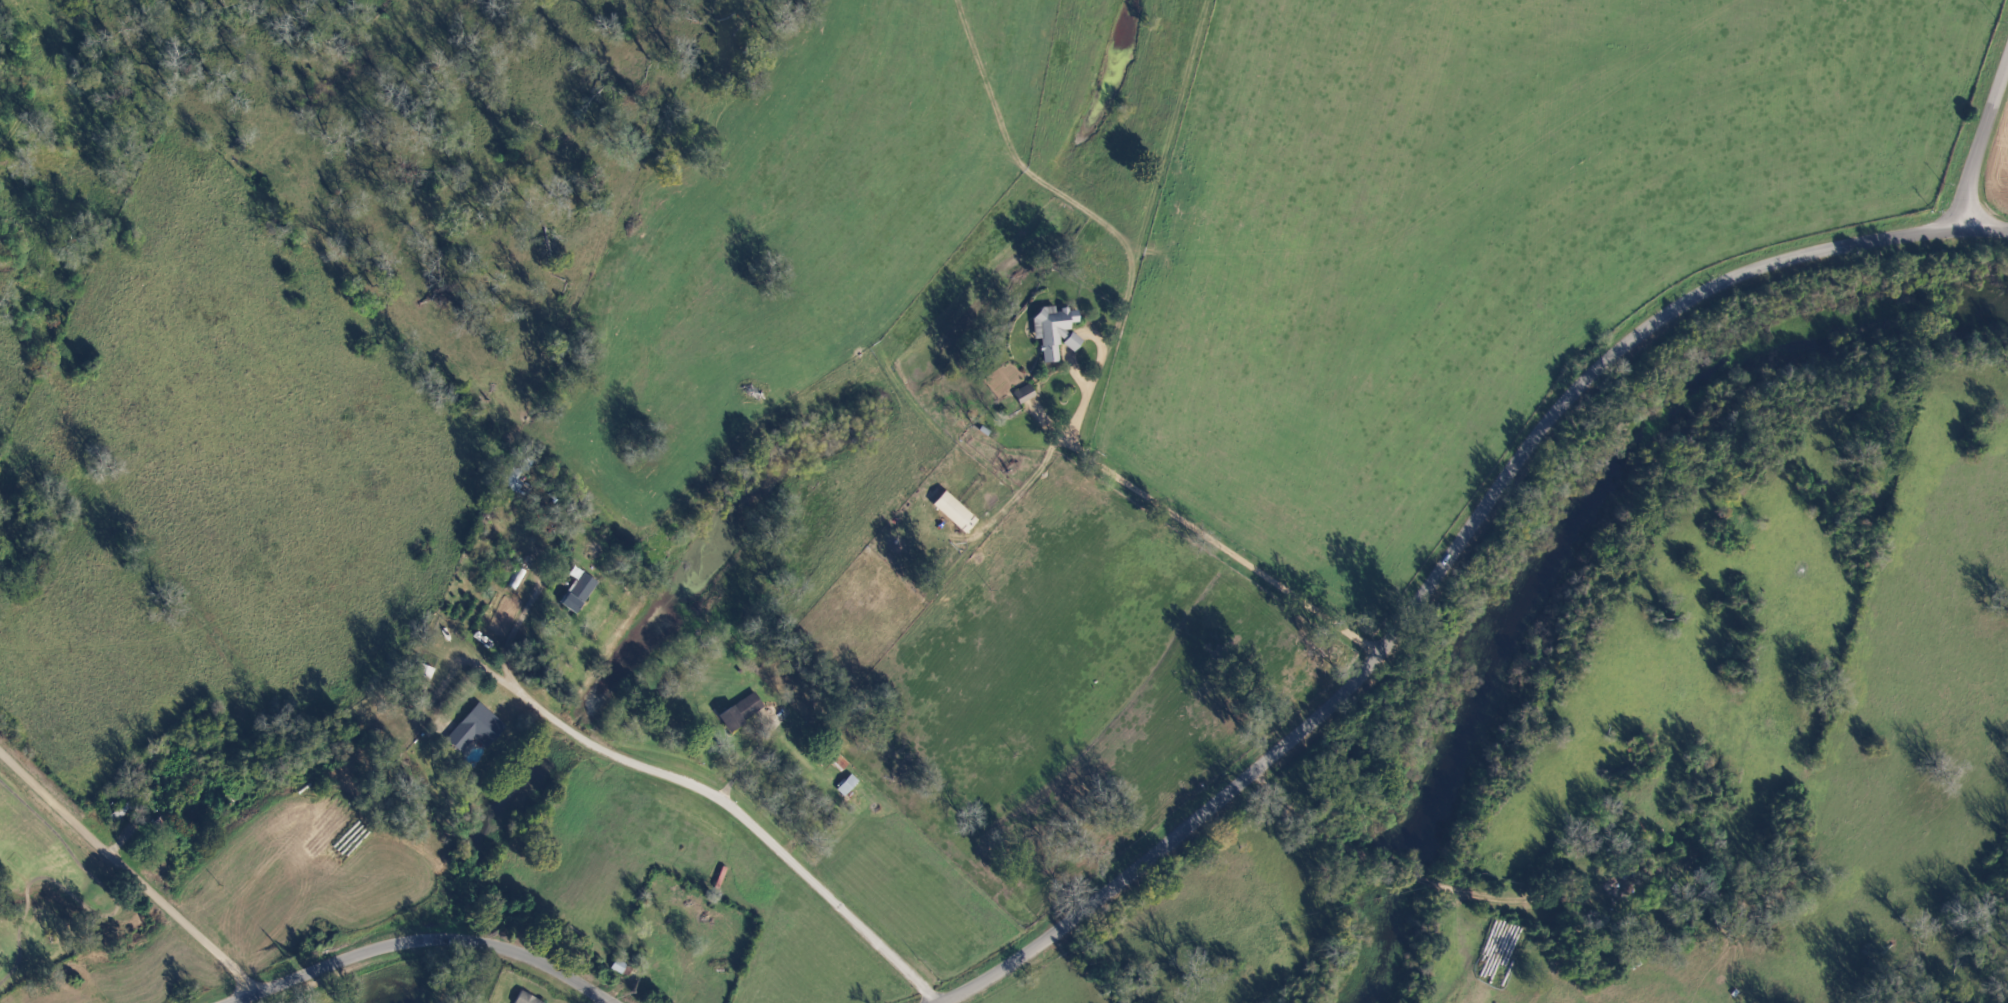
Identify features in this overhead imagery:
road: (1983, 140)
building: (1053, 332)
building: (1023, 395)
building: (513, 478)
building: (952, 513)
road: (1184, 525)
road: (1451, 555)
building: (578, 594)
road: (507, 635)
building: (424, 672)
building: (739, 711)
building: (475, 729)
building: (837, 761)
building: (847, 786)
road: (743, 818)
road: (126, 872)
park: (50, 889)
road: (420, 941)
building: (526, 999)

